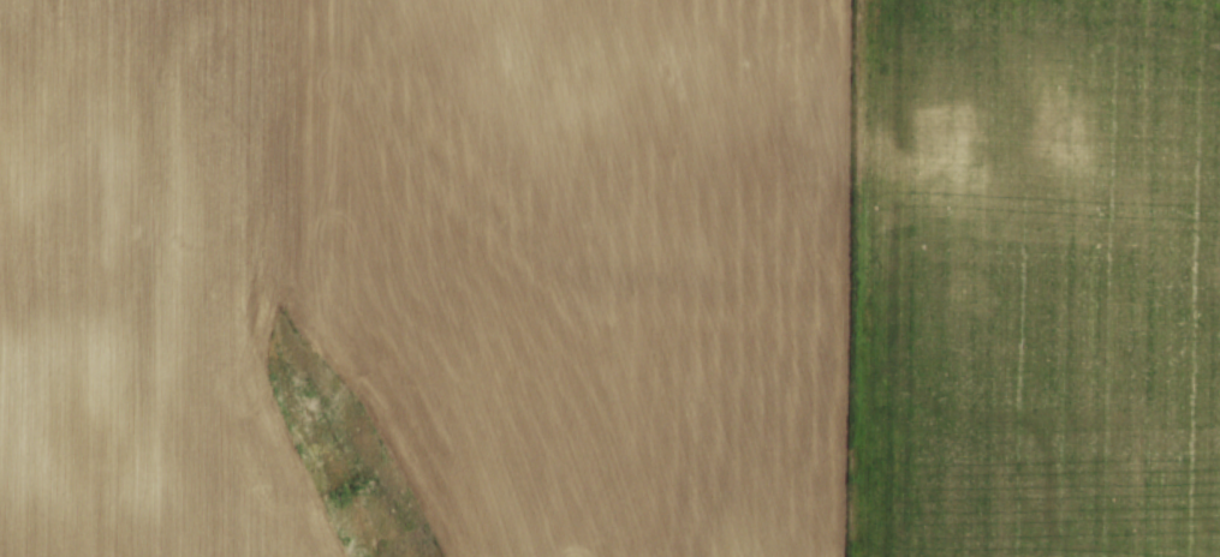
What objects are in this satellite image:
crop: (620, 271)

